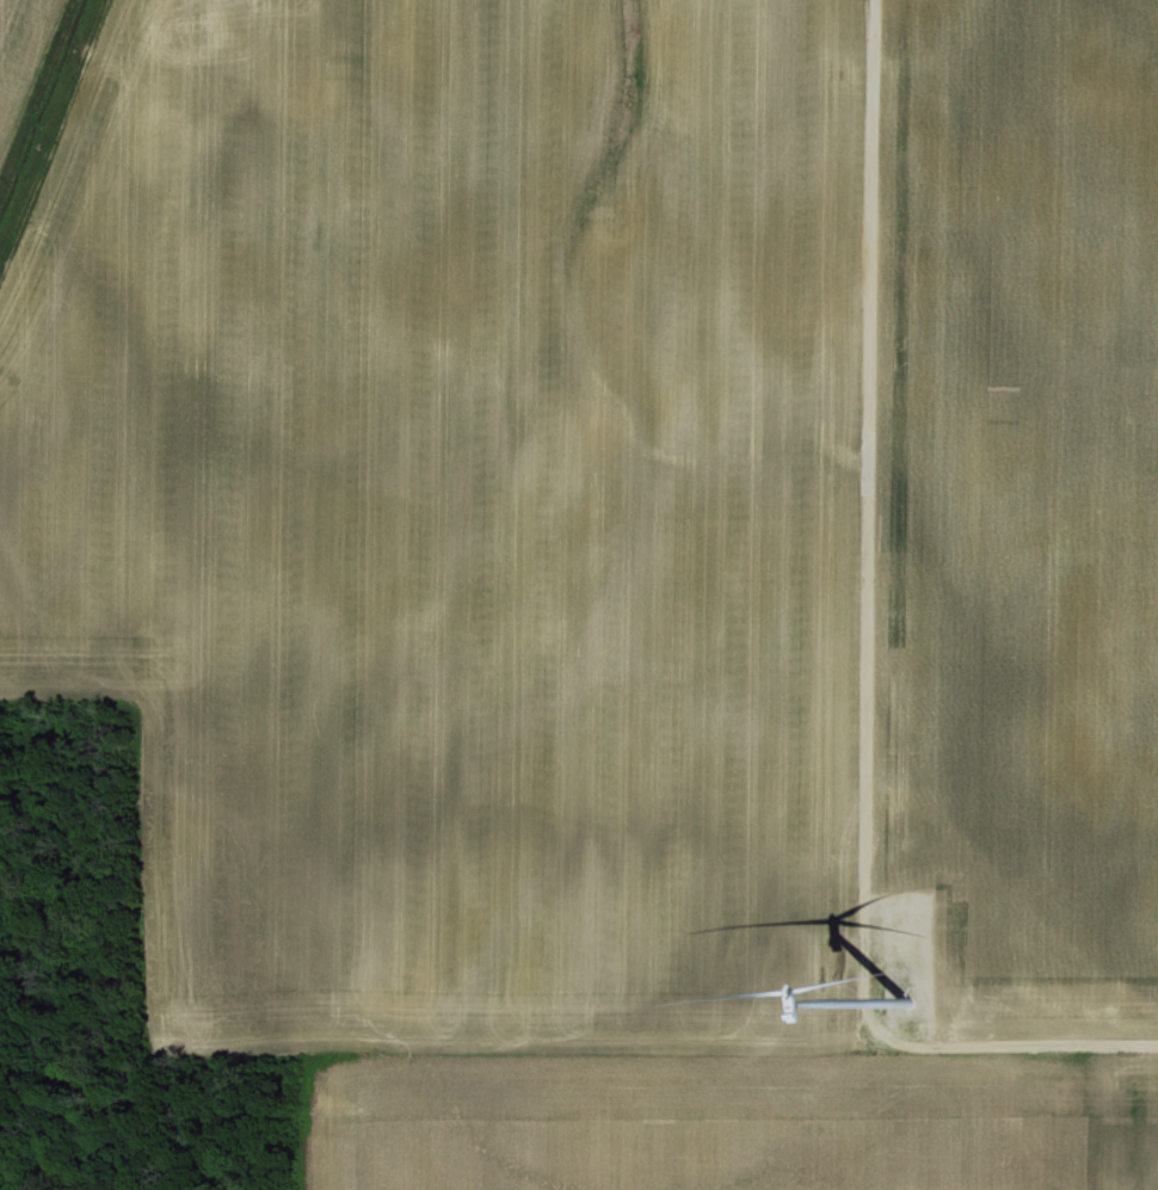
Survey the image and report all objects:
wind turbine: (908, 998)

